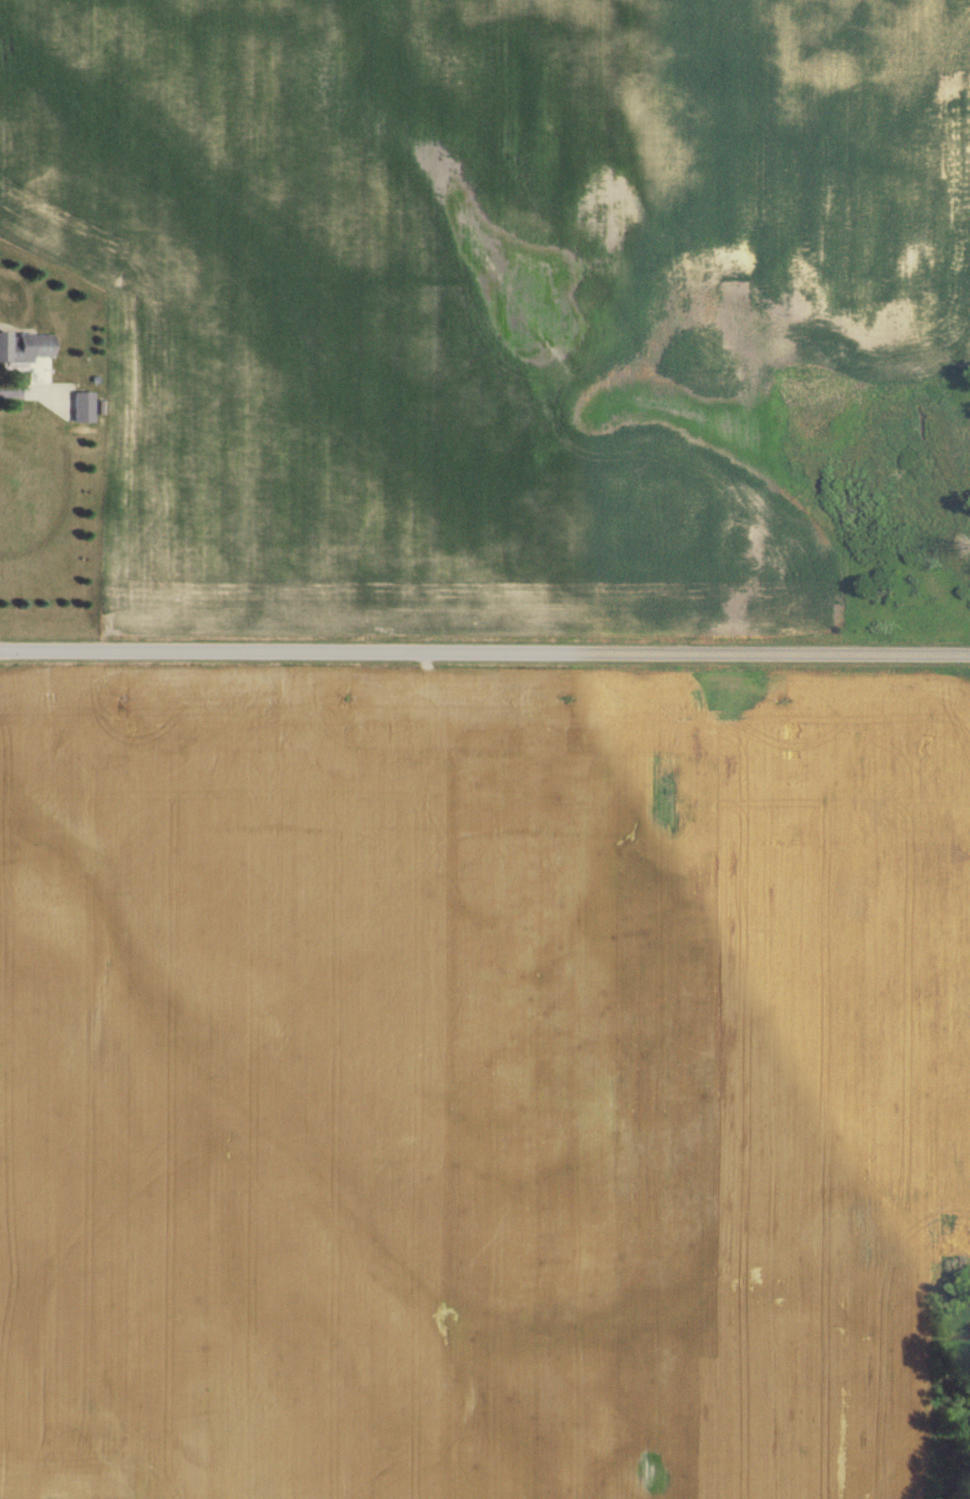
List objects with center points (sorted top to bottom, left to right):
building: (27, 344)
building: (79, 405)
road: (485, 649)

